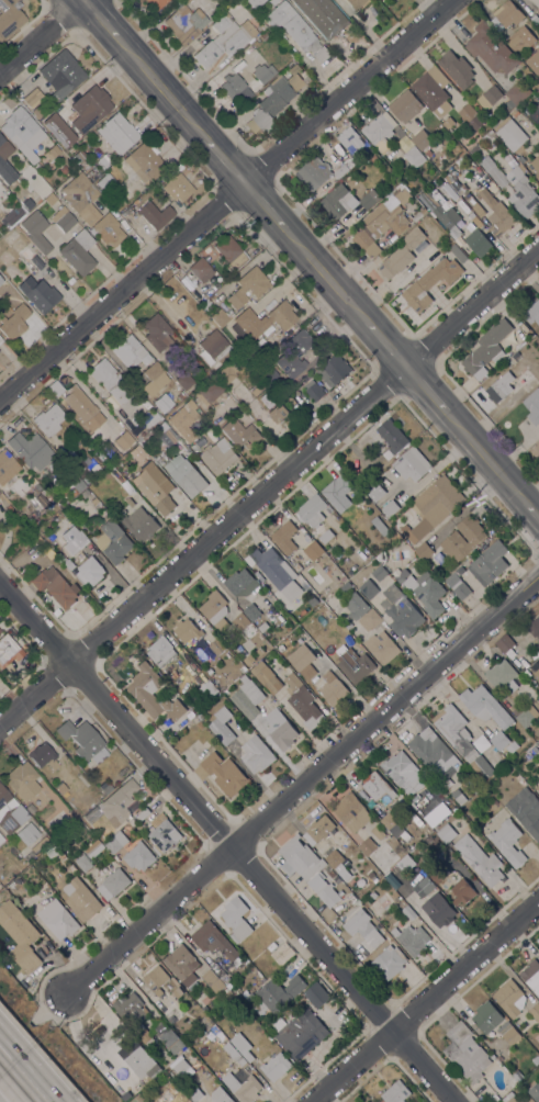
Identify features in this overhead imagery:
building: (187, 1)
building: (272, 1)
building: (255, 2)
building: (156, 3)
building: (357, 3)
building: (506, 15)
building: (322, 16)
building: (9, 19)
road: (103, 20)
building: (535, 20)
building: (186, 23)
building: (260, 26)
building: (295, 29)
building: (265, 34)
road: (41, 36)
building: (224, 38)
building: (520, 40)
building: (492, 48)
building: (534, 60)
building: (457, 69)
building: (262, 72)
building: (61, 74)
road: (162, 87)
building: (235, 87)
building: (433, 90)
building: (518, 92)
building: (33, 97)
building: (490, 98)
building: (276, 99)
building: (509, 103)
building: (405, 105)
building: (89, 108)
building: (37, 111)
building: (534, 115)
building: (470, 116)
building: (448, 123)
building: (58, 128)
building: (23, 132)
building: (117, 132)
building: (379, 132)
building: (510, 133)
building: (350, 137)
building: (489, 137)
building: (422, 138)
building: (53, 149)
building: (428, 153)
building: (79, 156)
road: (224, 157)
building: (414, 157)
building: (373, 158)
building: (520, 158)
building: (534, 158)
building: (104, 159)
building: (145, 160)
building: (5, 162)
building: (344, 164)
building: (64, 169)
building: (314, 173)
building: (105, 182)
building: (176, 184)
building: (456, 184)
building: (514, 187)
building: (397, 193)
building: (81, 196)
building: (50, 199)
road: (224, 199)
building: (338, 201)
building: (368, 201)
building: (27, 203)
road: (266, 205)
building: (475, 206)
building: (442, 212)
building: (155, 214)
building: (496, 214)
building: (12, 215)
building: (63, 218)
building: (382, 226)
building: (108, 228)
building: (36, 230)
building: (11, 234)
building: (478, 243)
building: (78, 251)
building: (25, 252)
building: (231, 252)
building: (458, 254)
building: (401, 255)
building: (4, 257)
building: (200, 269)
road: (326, 274)
building: (430, 283)
building: (248, 285)
building: (42, 295)
building: (202, 305)
building: (531, 312)
building: (240, 316)
building: (220, 317)
building: (266, 321)
building: (14, 322)
building: (156, 331)
building: (0, 339)
road: (385, 341)
building: (491, 345)
building: (212, 346)
building: (130, 350)
building: (251, 352)
building: (293, 352)
building: (510, 362)
building: (334, 370)
building: (227, 372)
building: (268, 373)
building: (205, 374)
building: (154, 378)
building: (111, 380)
building: (527, 380)
building: (186, 381)
building: (256, 386)
building: (499, 387)
road: (426, 389)
building: (314, 390)
building: (209, 391)
building: (268, 400)
building: (162, 402)
building: (81, 406)
building: (532, 406)
building: (278, 412)
building: (151, 418)
building: (49, 419)
building: (184, 419)
building: (310, 419)
building: (239, 432)
building: (166, 437)
building: (392, 438)
building: (123, 439)
building: (194, 447)
building: (31, 449)
building: (536, 450)
building: (137, 451)
building: (218, 456)
road: (485, 457)
building: (412, 464)
building: (7, 465)
building: (186, 475)
building: (37, 486)
road: (269, 486)
building: (155, 487)
building: (338, 492)
building: (381, 498)
building: (130, 502)
building: (433, 507)
building: (9, 508)
road: (531, 509)
building: (311, 510)
building: (33, 515)
building: (141, 524)
building: (380, 526)
building: (325, 536)
building: (71, 537)
building: (284, 537)
building: (463, 539)
building: (113, 540)
building: (314, 550)
building: (424, 551)
building: (69, 564)
building: (431, 564)
building: (491, 564)
building: (448, 567)
building: (90, 571)
building: (276, 571)
building: (379, 573)
building: (344, 578)
building: (452, 578)
building: (240, 582)
building: (54, 585)
building: (346, 586)
building: (369, 588)
building: (462, 591)
building: (425, 593)
building: (312, 600)
building: (215, 609)
building: (362, 611)
building: (400, 611)
building: (251, 612)
building: (244, 626)
building: (262, 626)
building: (0, 629)
building: (534, 629)
building: (187, 630)
building: (258, 637)
building: (267, 644)
building: (506, 645)
building: (217, 646)
building: (382, 646)
building: (9, 649)
building: (161, 651)
building: (248, 660)
building: (303, 661)
building: (355, 664)
building: (537, 673)
building: (173, 675)
building: (266, 676)
building: (502, 677)
building: (333, 688)
building: (209, 689)
building: (153, 694)
building: (247, 697)
building: (303, 701)
building: (195, 702)
building: (485, 706)
building: (191, 713)
building: (524, 713)
building: (200, 716)
building: (200, 724)
building: (222, 726)
building: (280, 729)
building: (83, 740)
building: (462, 740)
building: (499, 740)
building: (513, 746)
building: (534, 751)
building: (434, 752)
building: (256, 754)
building: (43, 755)
building: (528, 755)
building: (402, 771)
building: (222, 773)
building: (22, 779)
road: (302, 785)
building: (105, 786)
building: (377, 786)
building: (537, 787)
building: (459, 797)
building: (422, 800)
building: (119, 802)
building: (78, 809)
building: (10, 811)
building: (526, 811)
building: (351, 812)
building: (143, 813)
building: (90, 817)
building: (389, 821)
building: (321, 828)
building: (378, 832)
building: (27, 833)
building: (162, 833)
building: (446, 833)
building: (1, 837)
building: (116, 842)
road: (225, 842)
building: (508, 842)
building: (40, 844)
building: (368, 846)
building: (384, 853)
building: (89, 855)
building: (63, 856)
building: (139, 856)
building: (334, 858)
building: (480, 859)
building: (307, 868)
building: (330, 874)
building: (437, 875)
building: (19, 880)
building: (113, 884)
building: (426, 885)
building: (462, 891)
building: (373, 895)
building: (80, 899)
building: (234, 911)
building: (409, 912)
building: (439, 914)
building: (58, 919)
building: (358, 921)
building: (240, 931)
building: (20, 936)
building: (412, 938)
building: (213, 940)
building: (282, 953)
building: (390, 962)
building: (182, 964)
building: (217, 969)
building: (531, 975)
building: (156, 979)
building: (213, 980)
building: (177, 991)
building: (226, 992)
building: (317, 994)
road: (423, 994)
building: (276, 997)
building: (250, 998)
building: (510, 998)
road: (49, 1009)
building: (130, 1009)
building: (535, 1012)
building: (486, 1016)
building: (205, 1022)
building: (508, 1033)
building: (143, 1034)
building: (301, 1034)
building: (171, 1041)
building: (242, 1047)
building: (465, 1053)
building: (234, 1054)
building: (137, 1059)
building: (536, 1059)
building: (276, 1066)
building: (183, 1069)
building: (164, 1075)
building: (518, 1076)
road: (19, 1080)
building: (243, 1087)
building: (535, 1091)
building: (193, 1092)
building: (395, 1092)
building: (524, 1093)
building: (218, 1094)
building: (125, 1095)
building: (138, 1098)
building: (179, 1098)
building: (508, 1098)

